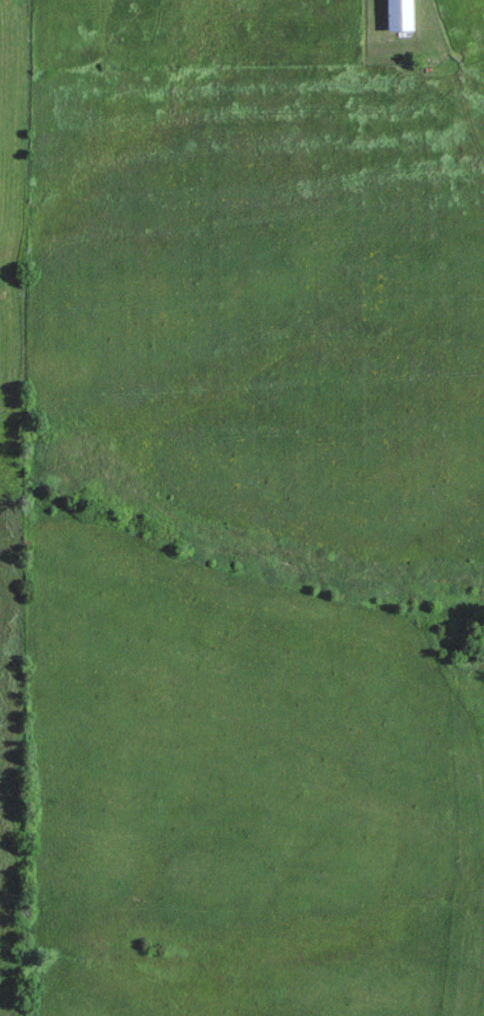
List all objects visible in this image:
building: (400, 15)

